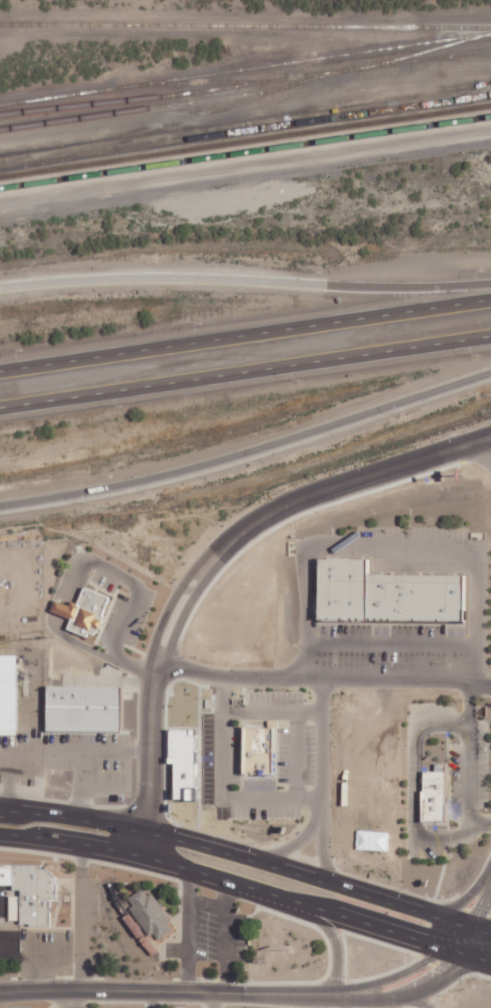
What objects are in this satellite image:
railway: (245, 25)
railway: (423, 52)
railway: (457, 54)
railway: (457, 57)
railway: (391, 63)
railway: (245, 68)
railway: (345, 70)
railway: (306, 76)
railway: (307, 80)
railway: (203, 82)
railway: (139, 97)
railway: (141, 109)
railway: (151, 129)
railway: (245, 129)
railway: (253, 138)
railway: (253, 150)
railway: (245, 162)
railway: (7, 176)
railway: (8, 184)
road: (245, 281)
road: (245, 334)
road: (245, 372)
road: (489, 442)
road: (249, 453)
parking lot: (411, 533)
road: (395, 548)
road: (209, 559)
building: (341, 589)
building: (378, 597)
building: (400, 597)
building: (418, 597)
building: (443, 598)
building: (82, 611)
parking lot: (389, 644)
road: (392, 644)
road: (322, 679)
building: (7, 695)
building: (82, 709)
road: (322, 746)
building: (263, 753)
building: (183, 762)
road: (469, 766)
parking lot: (468, 773)
road: (413, 787)
building: (431, 796)
road: (294, 844)
road: (218, 851)
road: (322, 852)
road: (226, 881)
building: (30, 895)
road: (465, 900)
road: (480, 908)
building: (148, 914)
road: (80, 917)
railway: (127, 920)
road: (451, 922)
road: (189, 931)
road: (480, 931)
road: (227, 937)
road: (337, 937)
road: (459, 938)
road: (480, 945)
flagpole: (290, 951)
road: (459, 953)
road: (480, 960)
road: (393, 977)
road: (166, 991)
road: (406, 993)
road: (73, 999)
road: (419, 1000)

